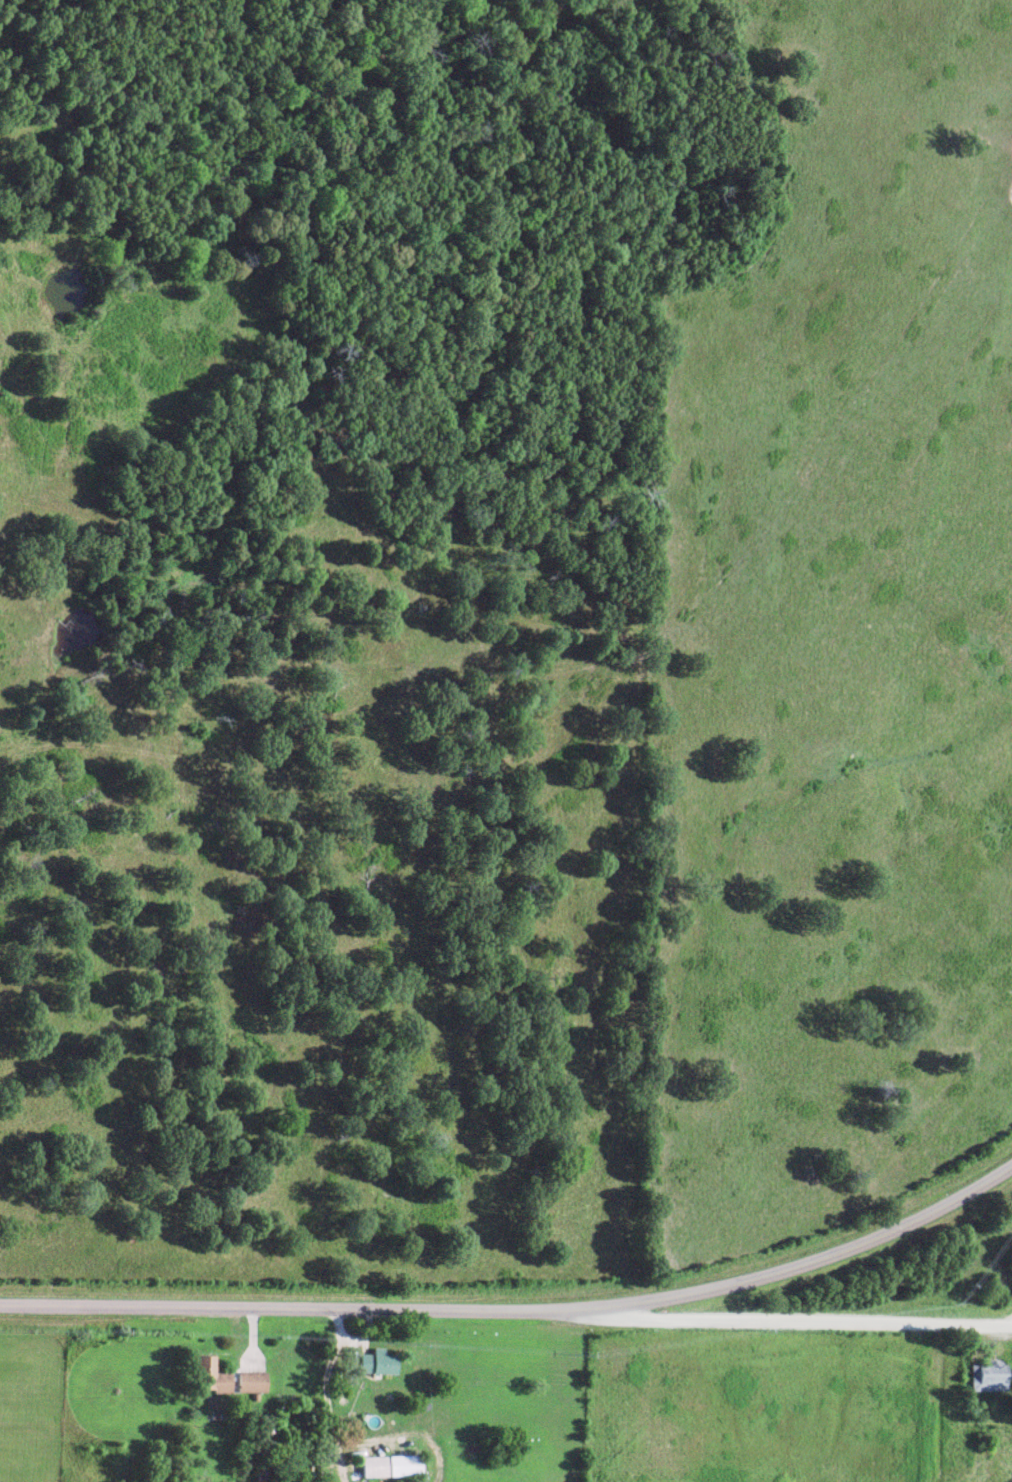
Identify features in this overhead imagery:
road: (520, 1311)
road: (799, 1321)
building: (379, 1364)
building: (213, 1376)
building: (990, 1378)
building: (253, 1383)
road: (322, 1394)
building: (392, 1466)
road: (437, 1471)

